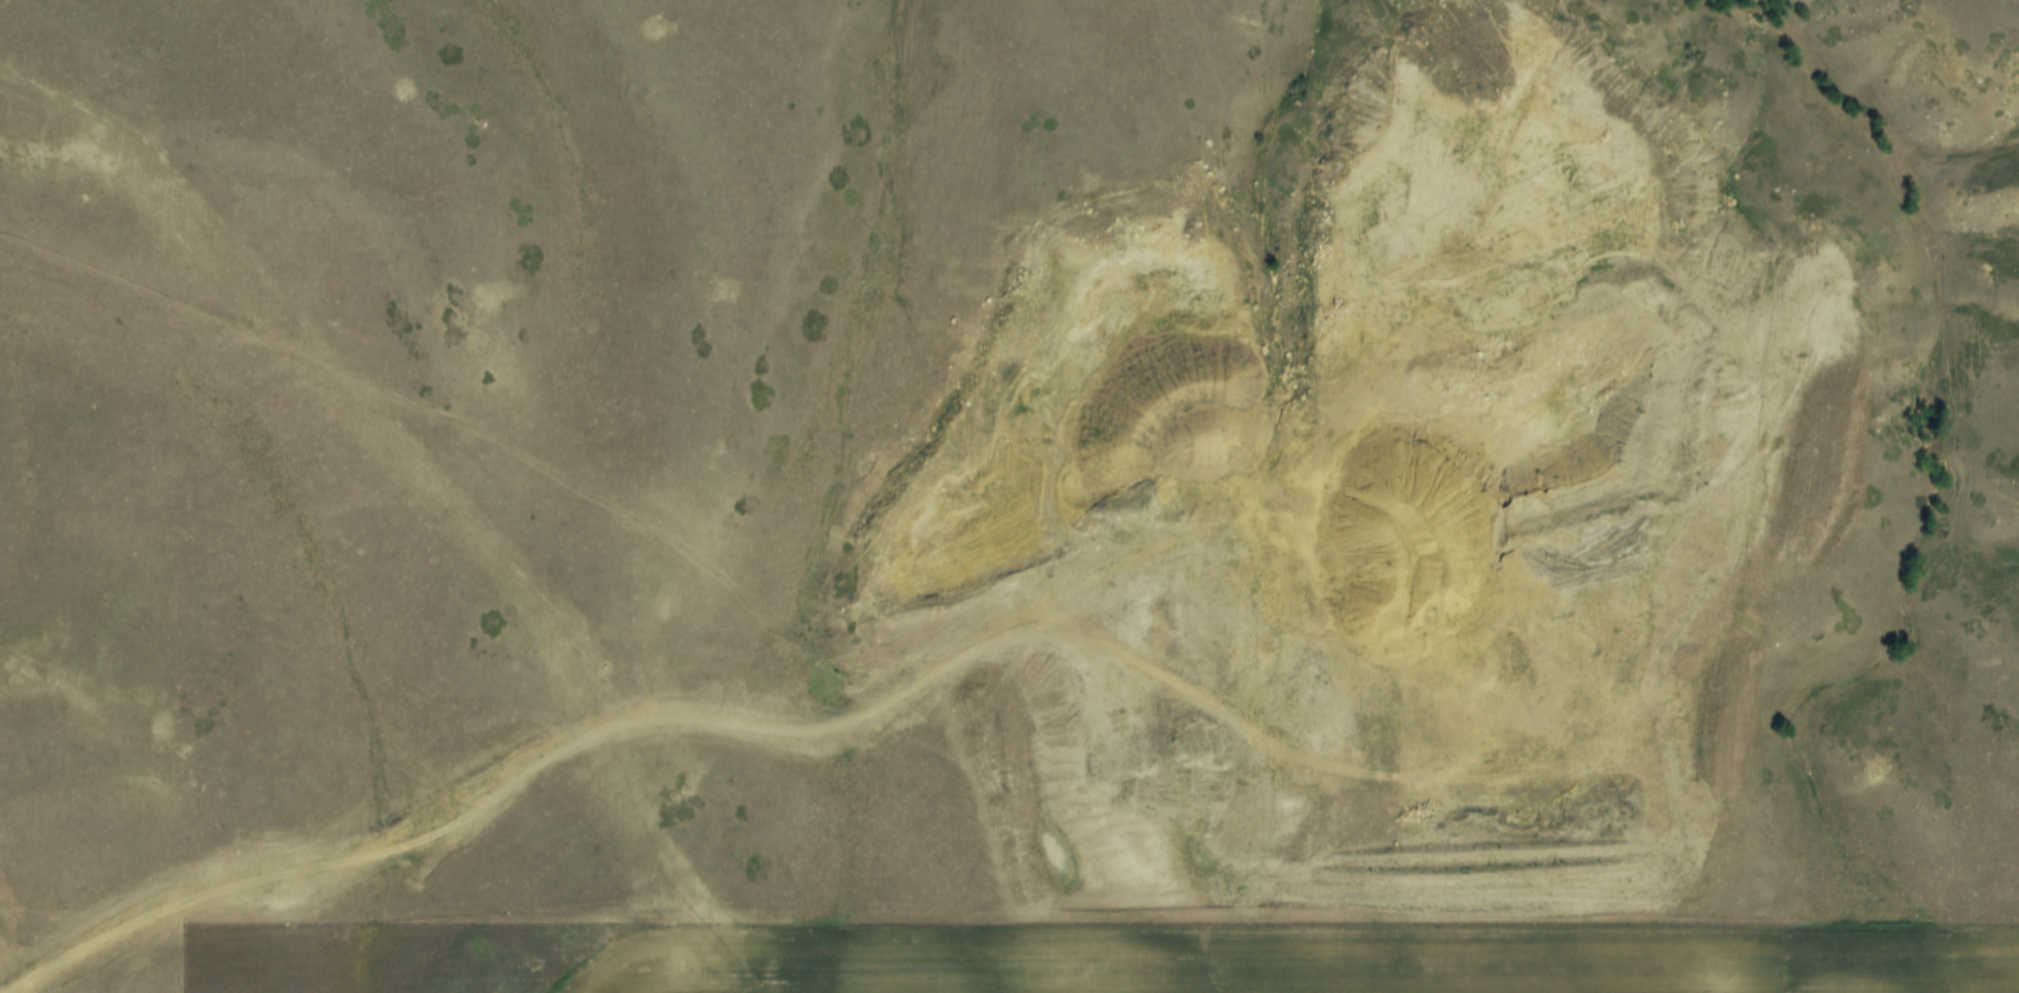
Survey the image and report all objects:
road: (773, 730)

